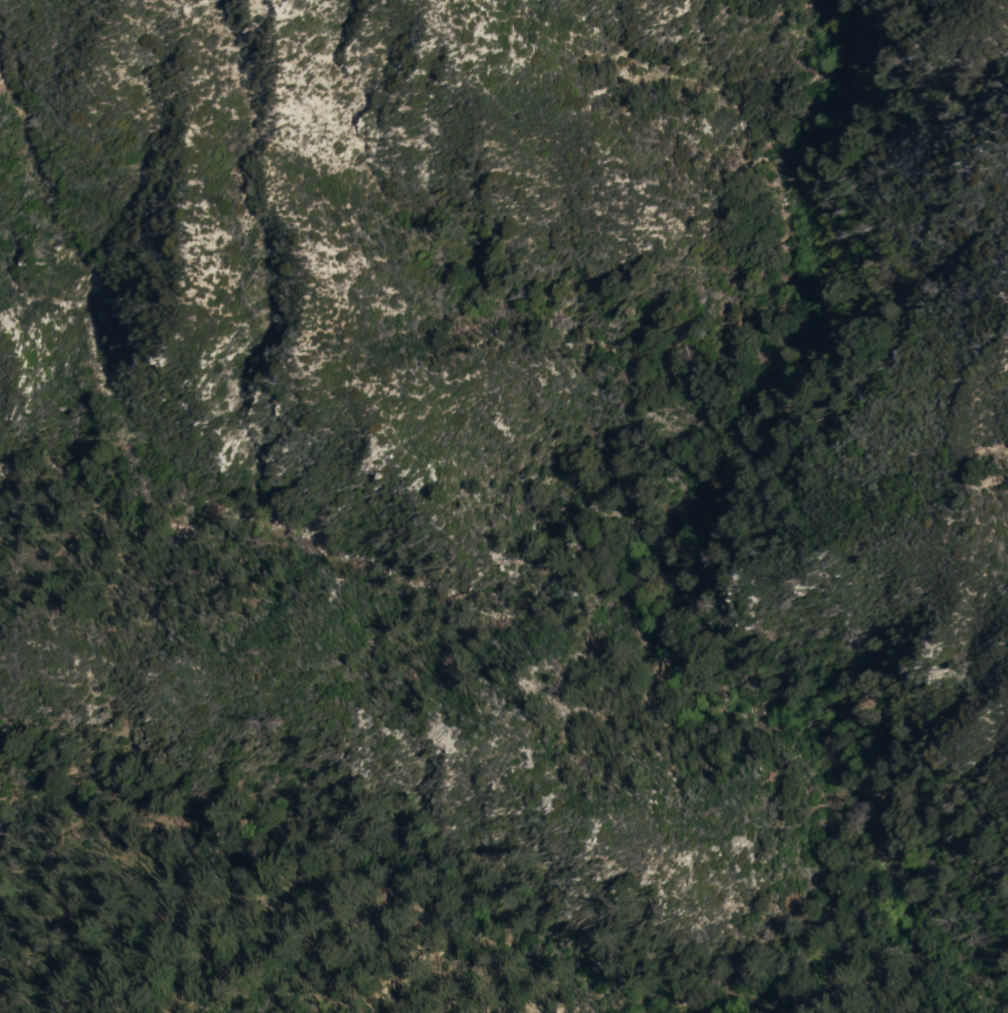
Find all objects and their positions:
road: (201, 929)

